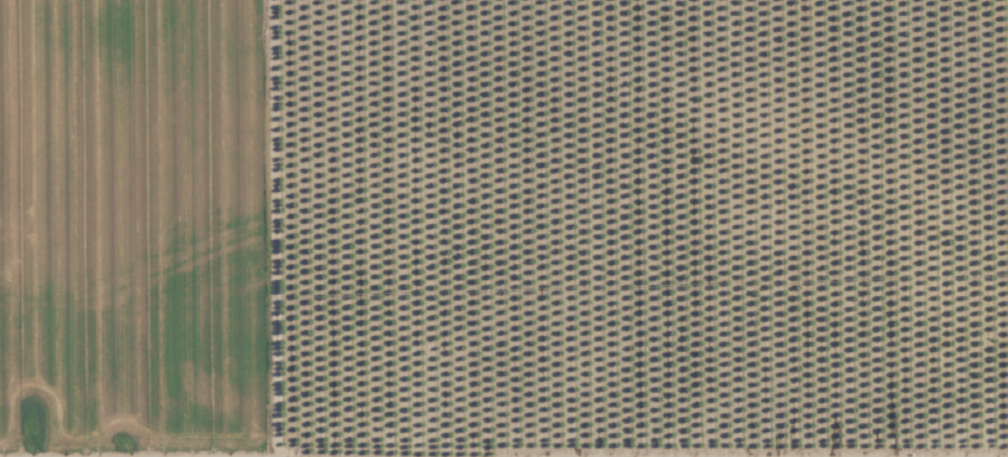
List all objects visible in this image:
crop: (457, 228)
crop: (961, 228)

